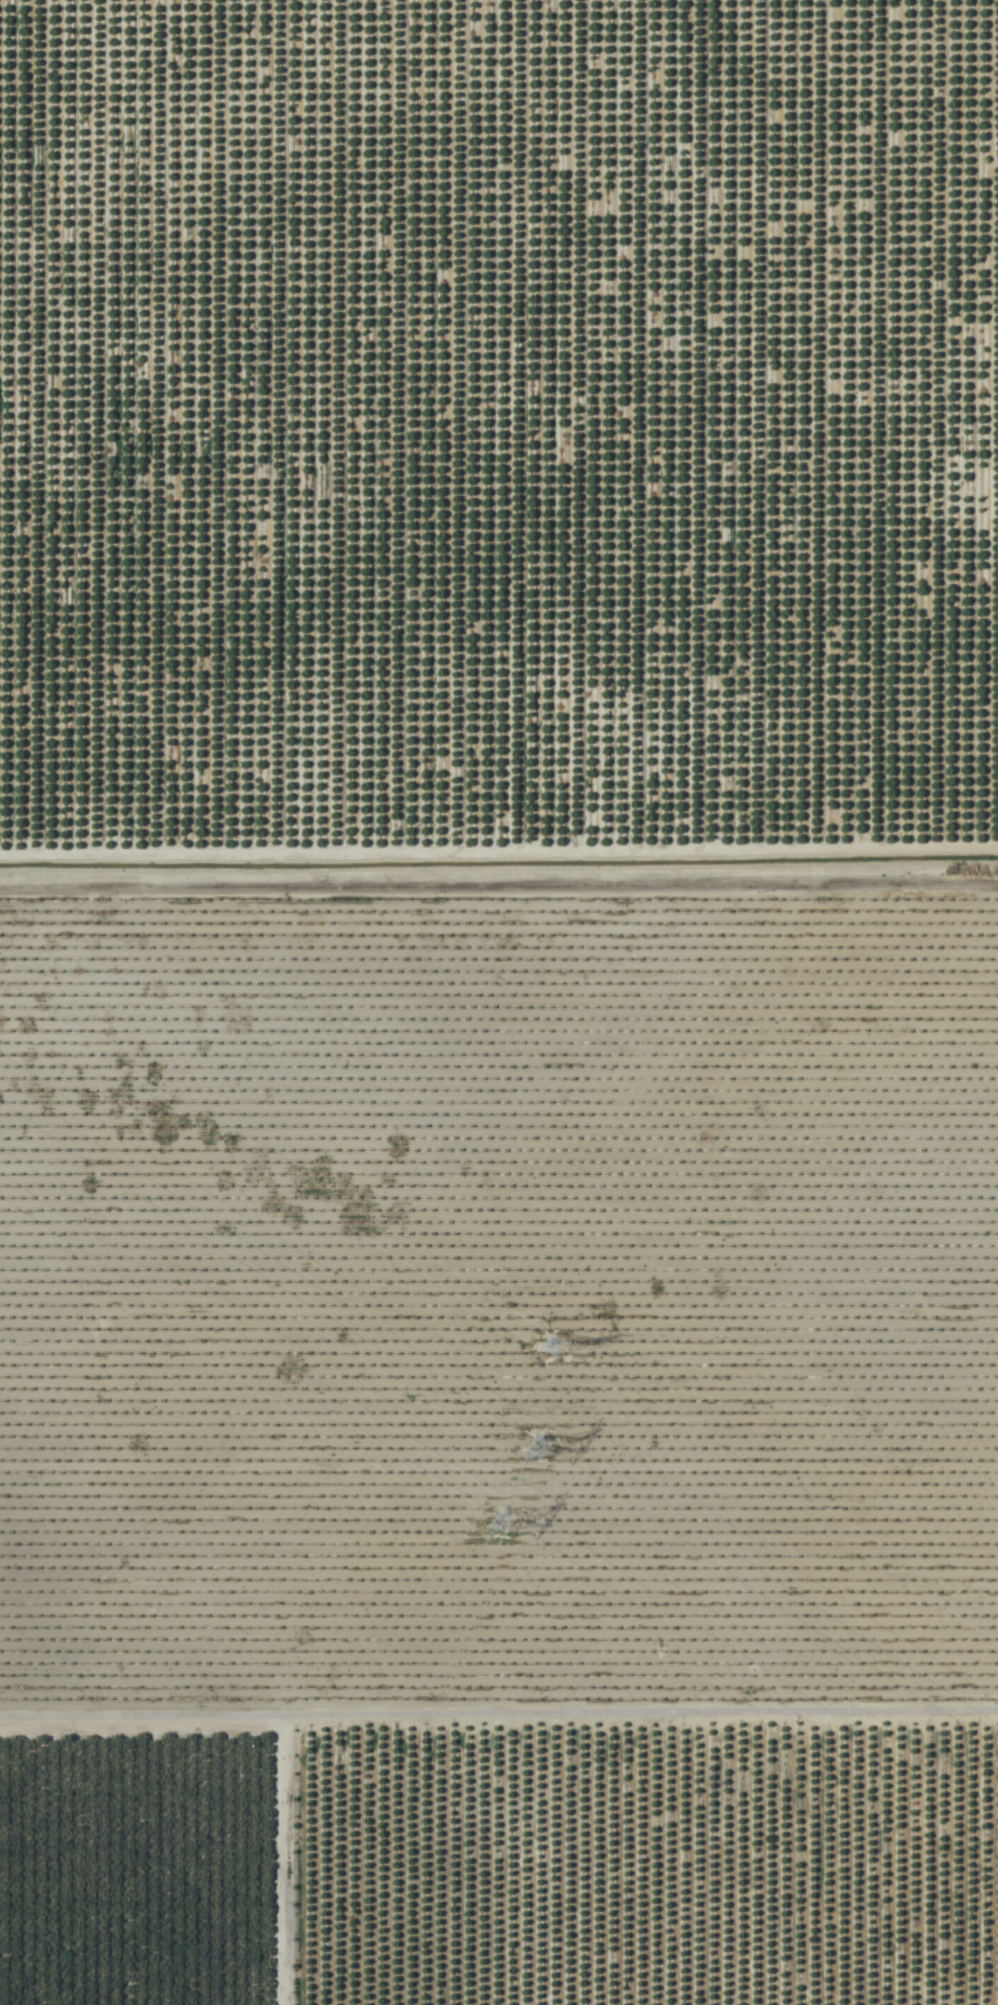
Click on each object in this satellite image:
road: (499, 907)
crop: (499, 1002)
power tower: (548, 1350)
power tower: (551, 1460)
power tower: (517, 1521)

